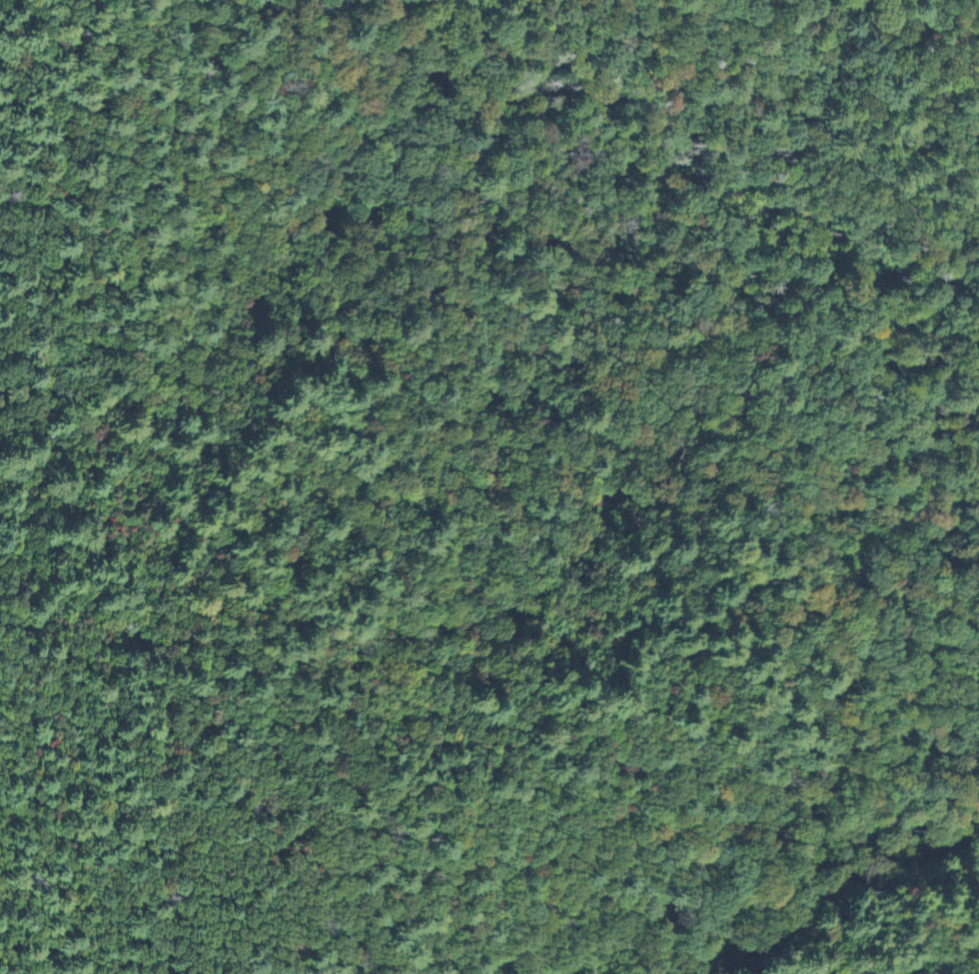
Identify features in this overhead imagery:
road: (283, 496)

